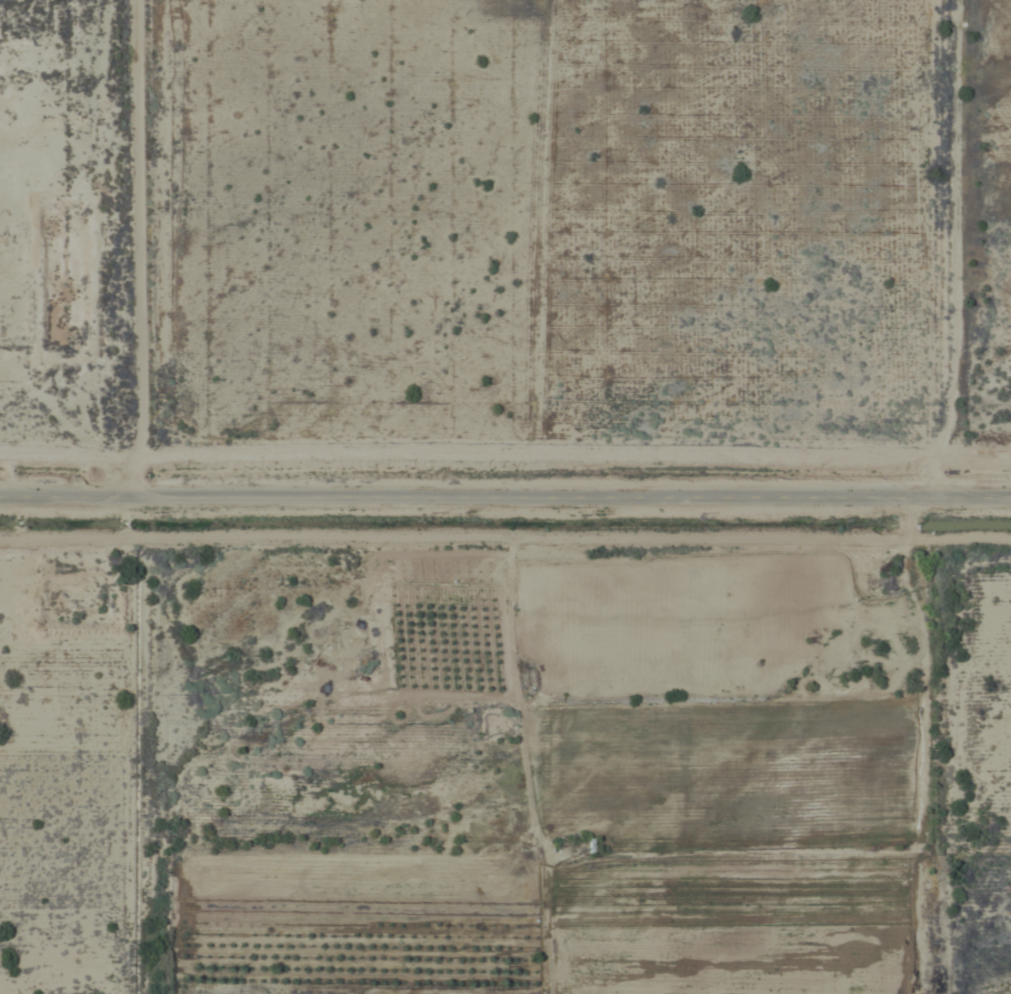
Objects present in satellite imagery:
road: (505, 492)

